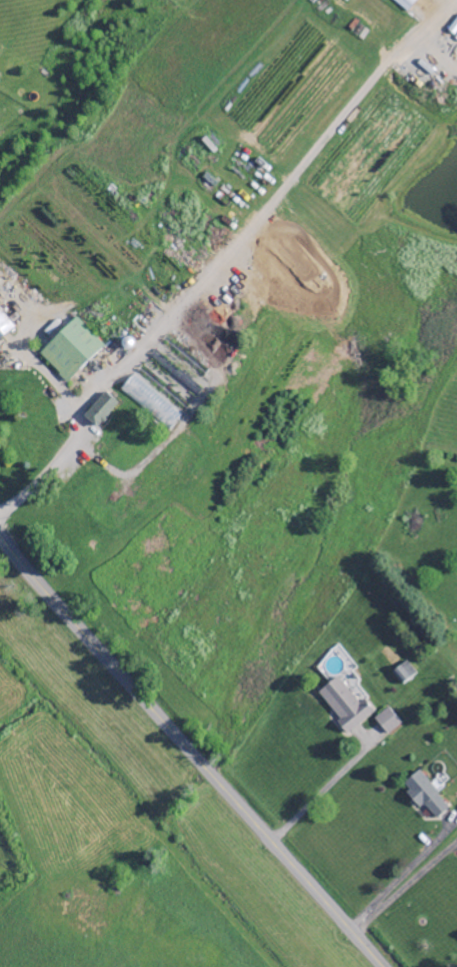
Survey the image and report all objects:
building: (404, 4)
building: (453, 28)
road: (216, 255)
building: (4, 326)
building: (69, 350)
building: (99, 410)
building: (404, 673)
building: (344, 706)
building: (386, 722)
road: (190, 752)
road: (320, 791)
building: (424, 796)
road: (400, 876)
road: (404, 888)

